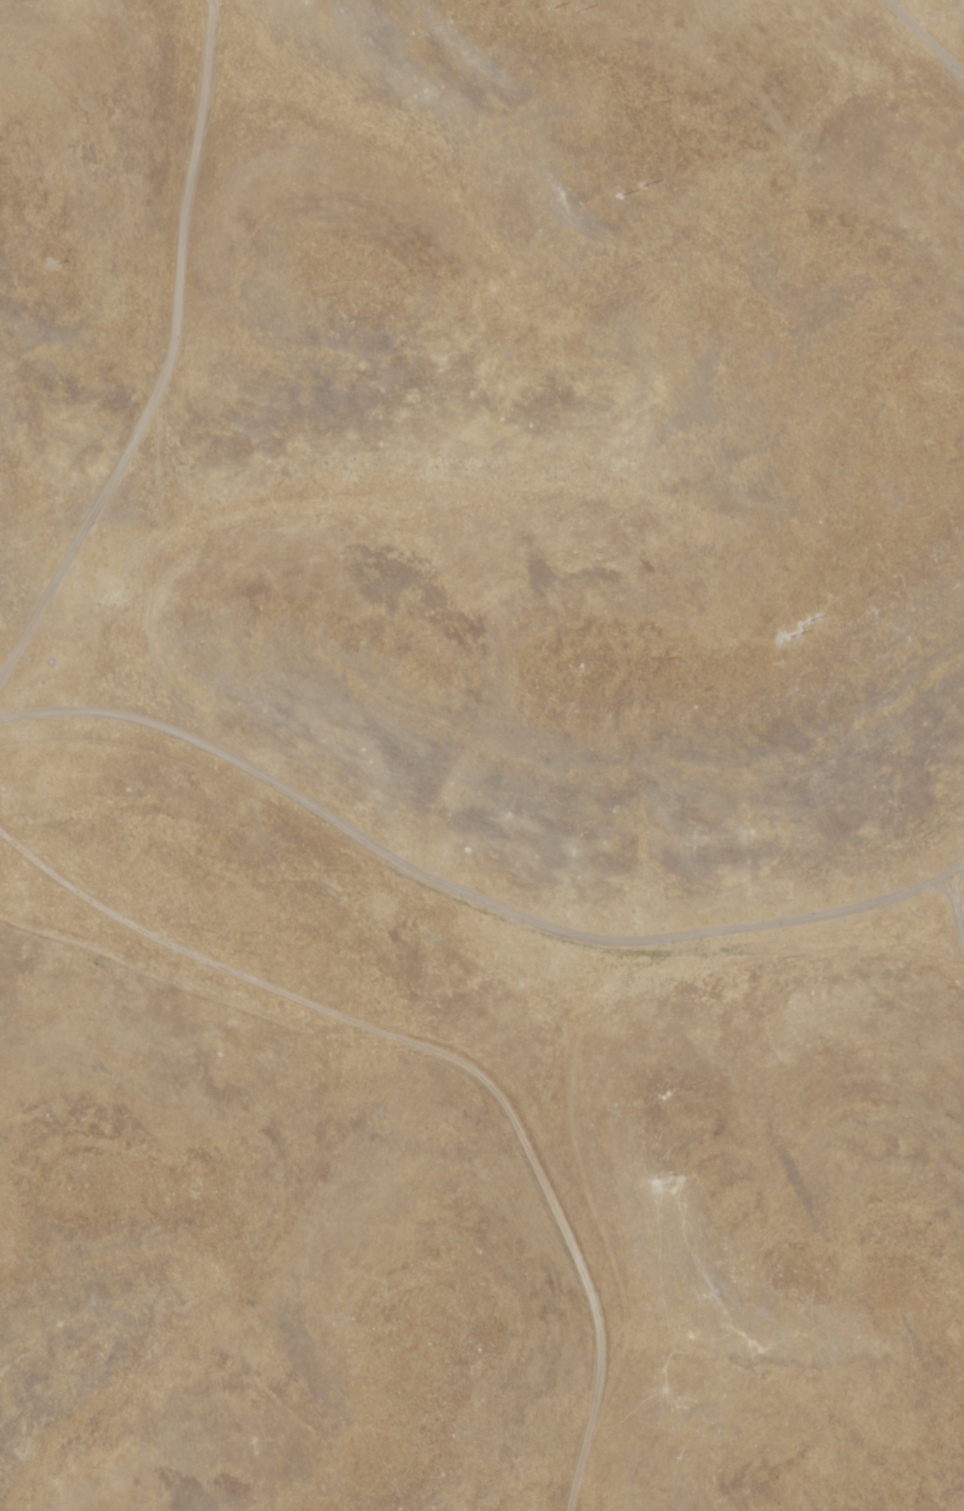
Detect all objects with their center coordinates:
road: (900, 53)
road: (471, 910)

